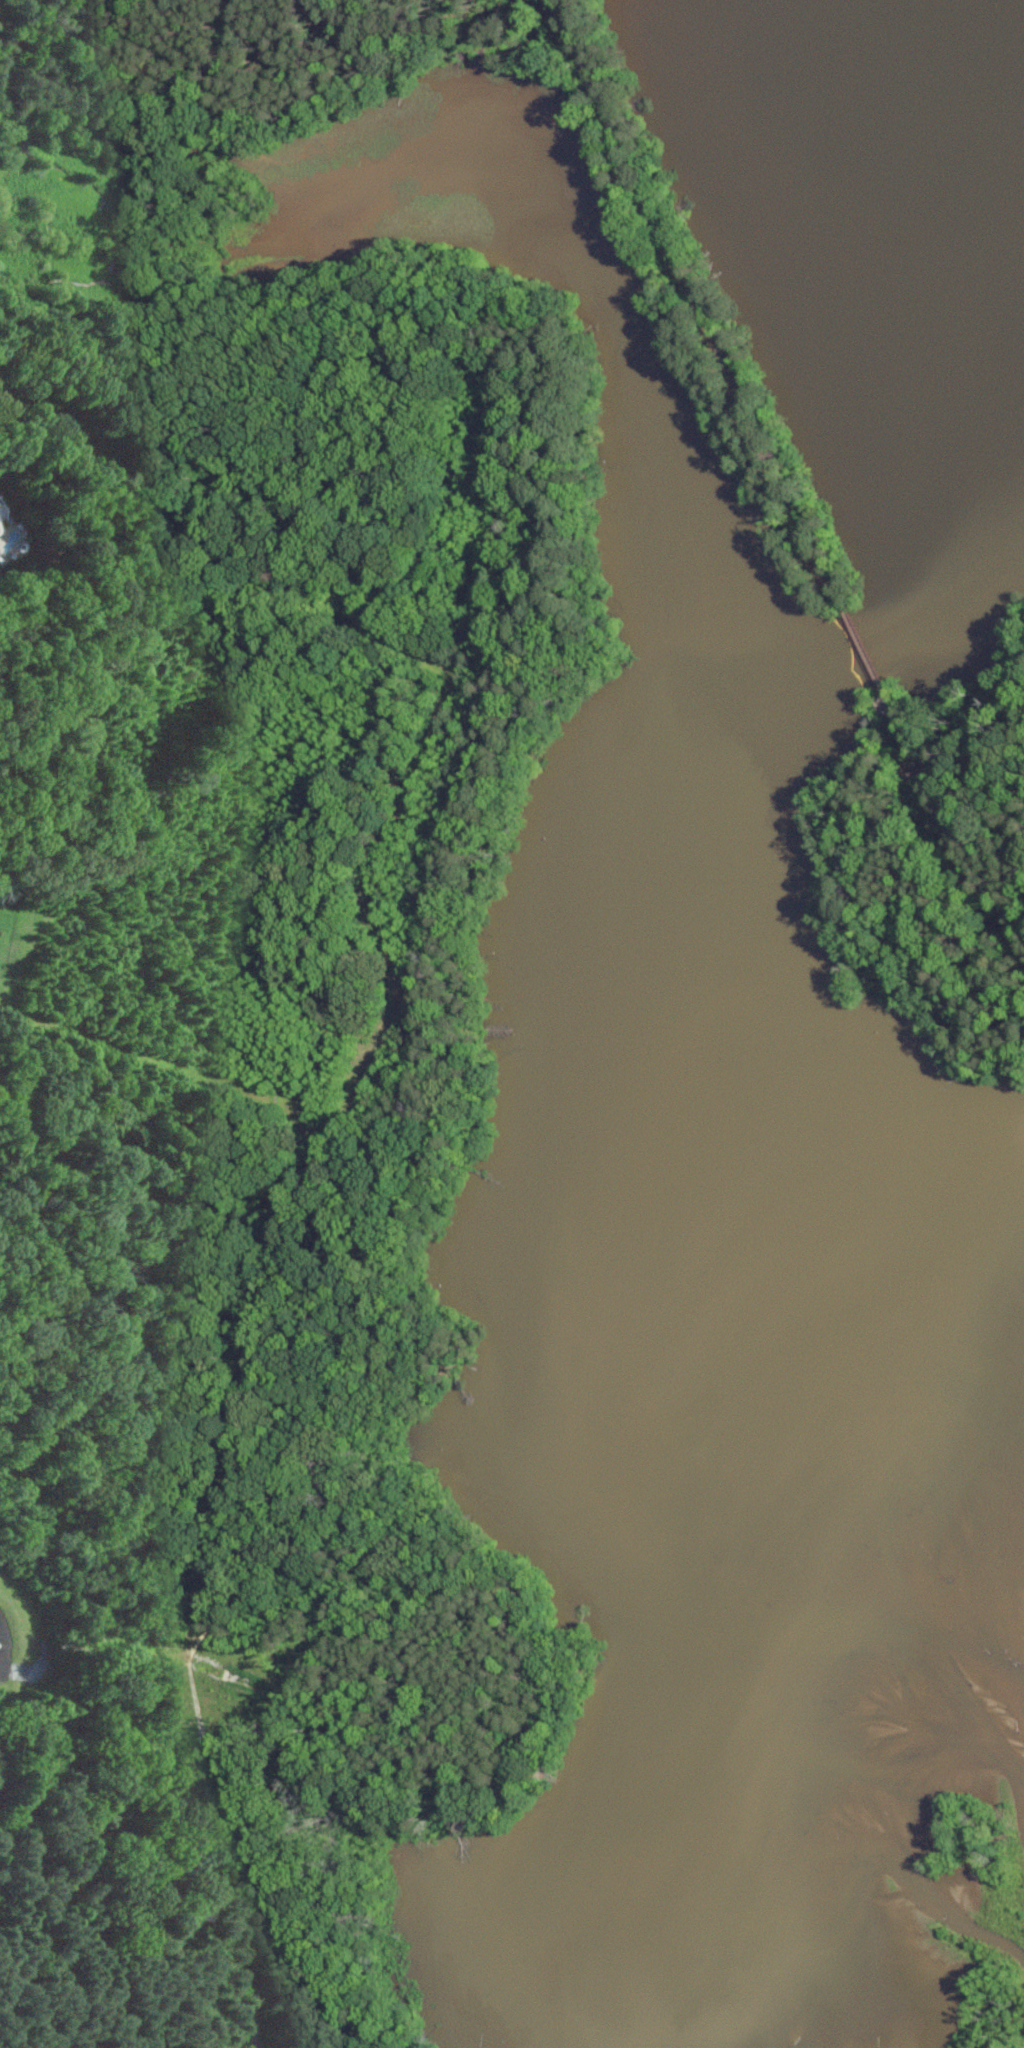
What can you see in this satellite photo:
road: (200, 97)
road: (693, 303)
road: (861, 647)
road: (947, 814)
park: (942, 874)
road: (440, 990)
river: (845, 1495)
road: (210, 1818)
road: (285, 1856)

